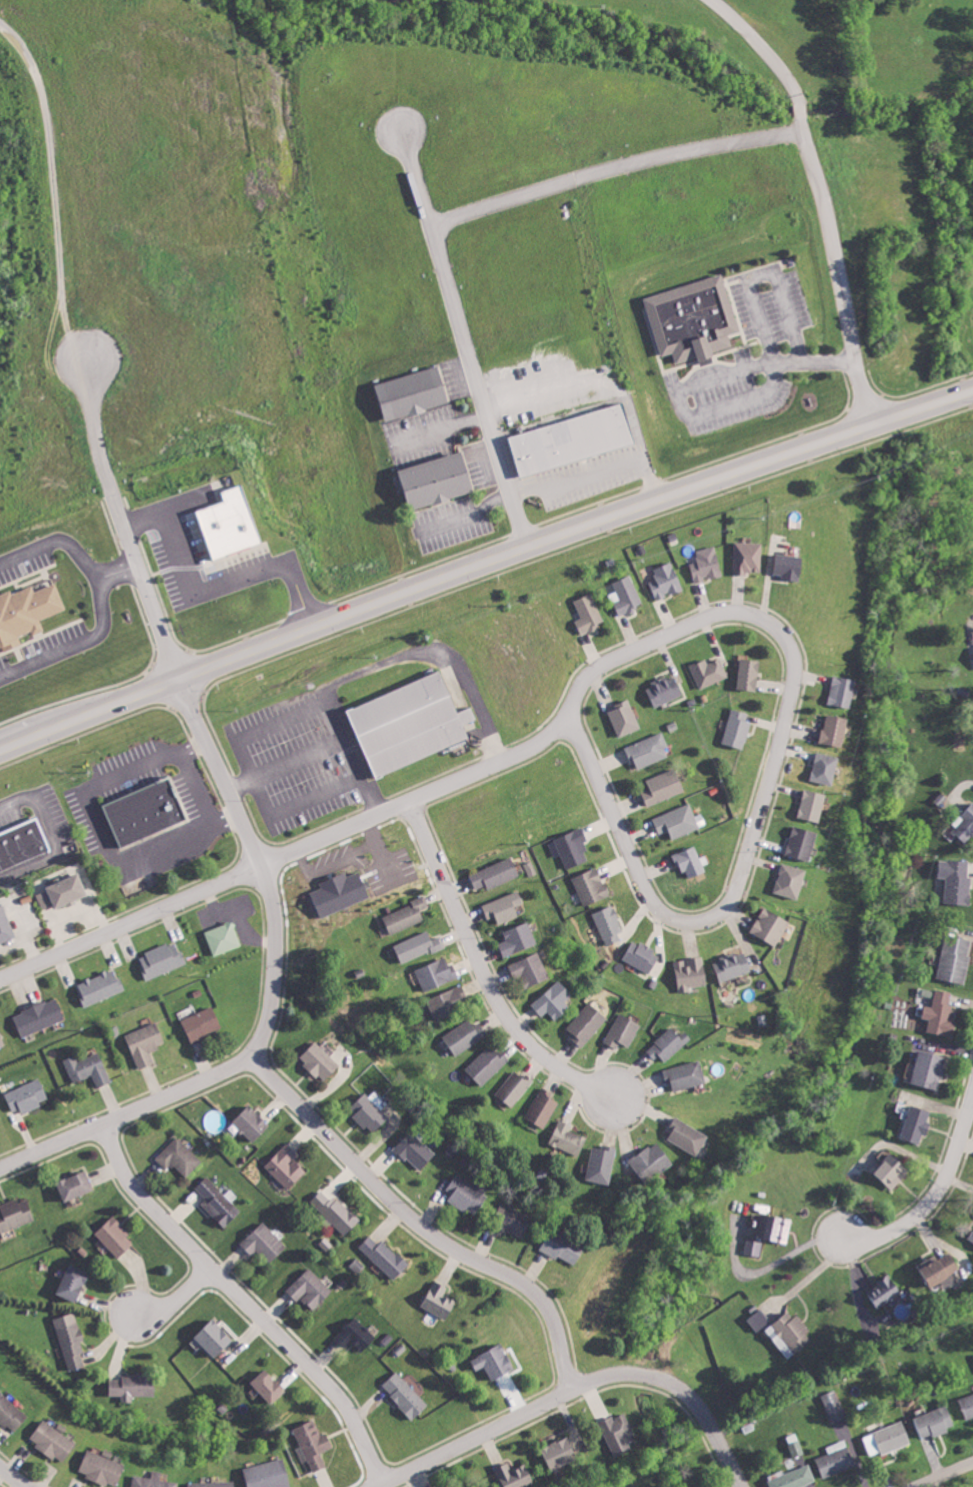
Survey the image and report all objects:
park: (972, 6)
road: (762, 47)
road: (799, 110)
road: (800, 123)
road: (760, 136)
building: (694, 319)
road: (461, 329)
road: (768, 364)
road: (552, 385)
building: (408, 394)
road: (635, 424)
building: (567, 438)
road: (599, 470)
building: (431, 479)
road: (116, 507)
building: (230, 524)
road: (54, 543)
building: (748, 557)
road: (484, 562)
building: (707, 564)
building: (790, 566)
road: (116, 570)
building: (667, 581)
building: (627, 595)
building: (27, 611)
building: (589, 613)
road: (75, 644)
road: (375, 666)
building: (709, 672)
building: (751, 674)
building: (666, 690)
building: (842, 691)
building: (626, 718)
building: (412, 723)
building: (738, 728)
building: (835, 730)
building: (648, 750)
building: (825, 768)
road: (767, 780)
building: (664, 786)
road: (303, 802)
building: (812, 805)
building: (146, 811)
building: (678, 821)
building: (965, 826)
building: (801, 843)
building: (23, 844)
building: (573, 848)
road: (282, 855)
building: (691, 861)
building: (530, 868)
building: (496, 874)
building: (790, 880)
building: (956, 880)
building: (591, 886)
building: (68, 890)
building: (341, 893)
building: (44, 900)
building: (504, 907)
building: (407, 916)
building: (609, 924)
building: (6, 925)
building: (771, 925)
building: (224, 938)
building: (518, 939)
building: (419, 946)
building: (642, 956)
building: (162, 959)
building: (955, 959)
building: (733, 965)
building: (530, 969)
road: (484, 971)
building: (437, 973)
building: (691, 973)
building: (101, 986)
road: (273, 996)
building: (554, 1001)
building: (449, 1002)
building: (940, 1014)
building: (40, 1016)
building: (203, 1024)
building: (587, 1024)
building: (623, 1031)
building: (465, 1035)
building: (2, 1041)
building: (146, 1043)
building: (669, 1044)
building: (320, 1061)
building: (487, 1064)
building: (89, 1069)
building: (930, 1069)
building: (686, 1075)
building: (515, 1088)
building: (28, 1096)
building: (543, 1107)
building: (372, 1111)
building: (214, 1121)
building: (253, 1123)
building: (918, 1124)
building: (687, 1136)
building: (568, 1138)
building: (416, 1150)
building: (180, 1157)
building: (651, 1161)
building: (602, 1164)
building: (287, 1166)
building: (893, 1170)
building: (77, 1186)
building: (468, 1194)
road: (932, 1197)
building: (335, 1212)
building: (16, 1215)
building: (513, 1220)
road: (418, 1223)
building: (775, 1228)
building: (116, 1237)
building: (972, 1239)
building: (265, 1243)
building: (753, 1246)
building: (564, 1247)
building: (385, 1257)
building: (941, 1268)
building: (74, 1283)
building: (310, 1289)
building: (884, 1291)
road: (176, 1300)
building: (439, 1300)
road: (243, 1301)
building: (759, 1319)
building: (790, 1334)
building: (357, 1335)
building: (215, 1338)
building: (71, 1340)
building: (495, 1362)
building: (133, 1386)
building: (270, 1386)
road: (576, 1386)
building: (405, 1395)
building: (968, 1405)
building: (834, 1406)
building: (11, 1413)
building: (937, 1422)
building: (618, 1434)
building: (887, 1439)
building: (53, 1440)
building: (314, 1445)
building: (561, 1453)
building: (836, 1458)
building: (102, 1468)
building: (268, 1474)
road: (946, 1475)
road: (15, 1476)
building: (515, 1476)
building: (795, 1478)
building: (152, 1481)
building: (213, 1484)

